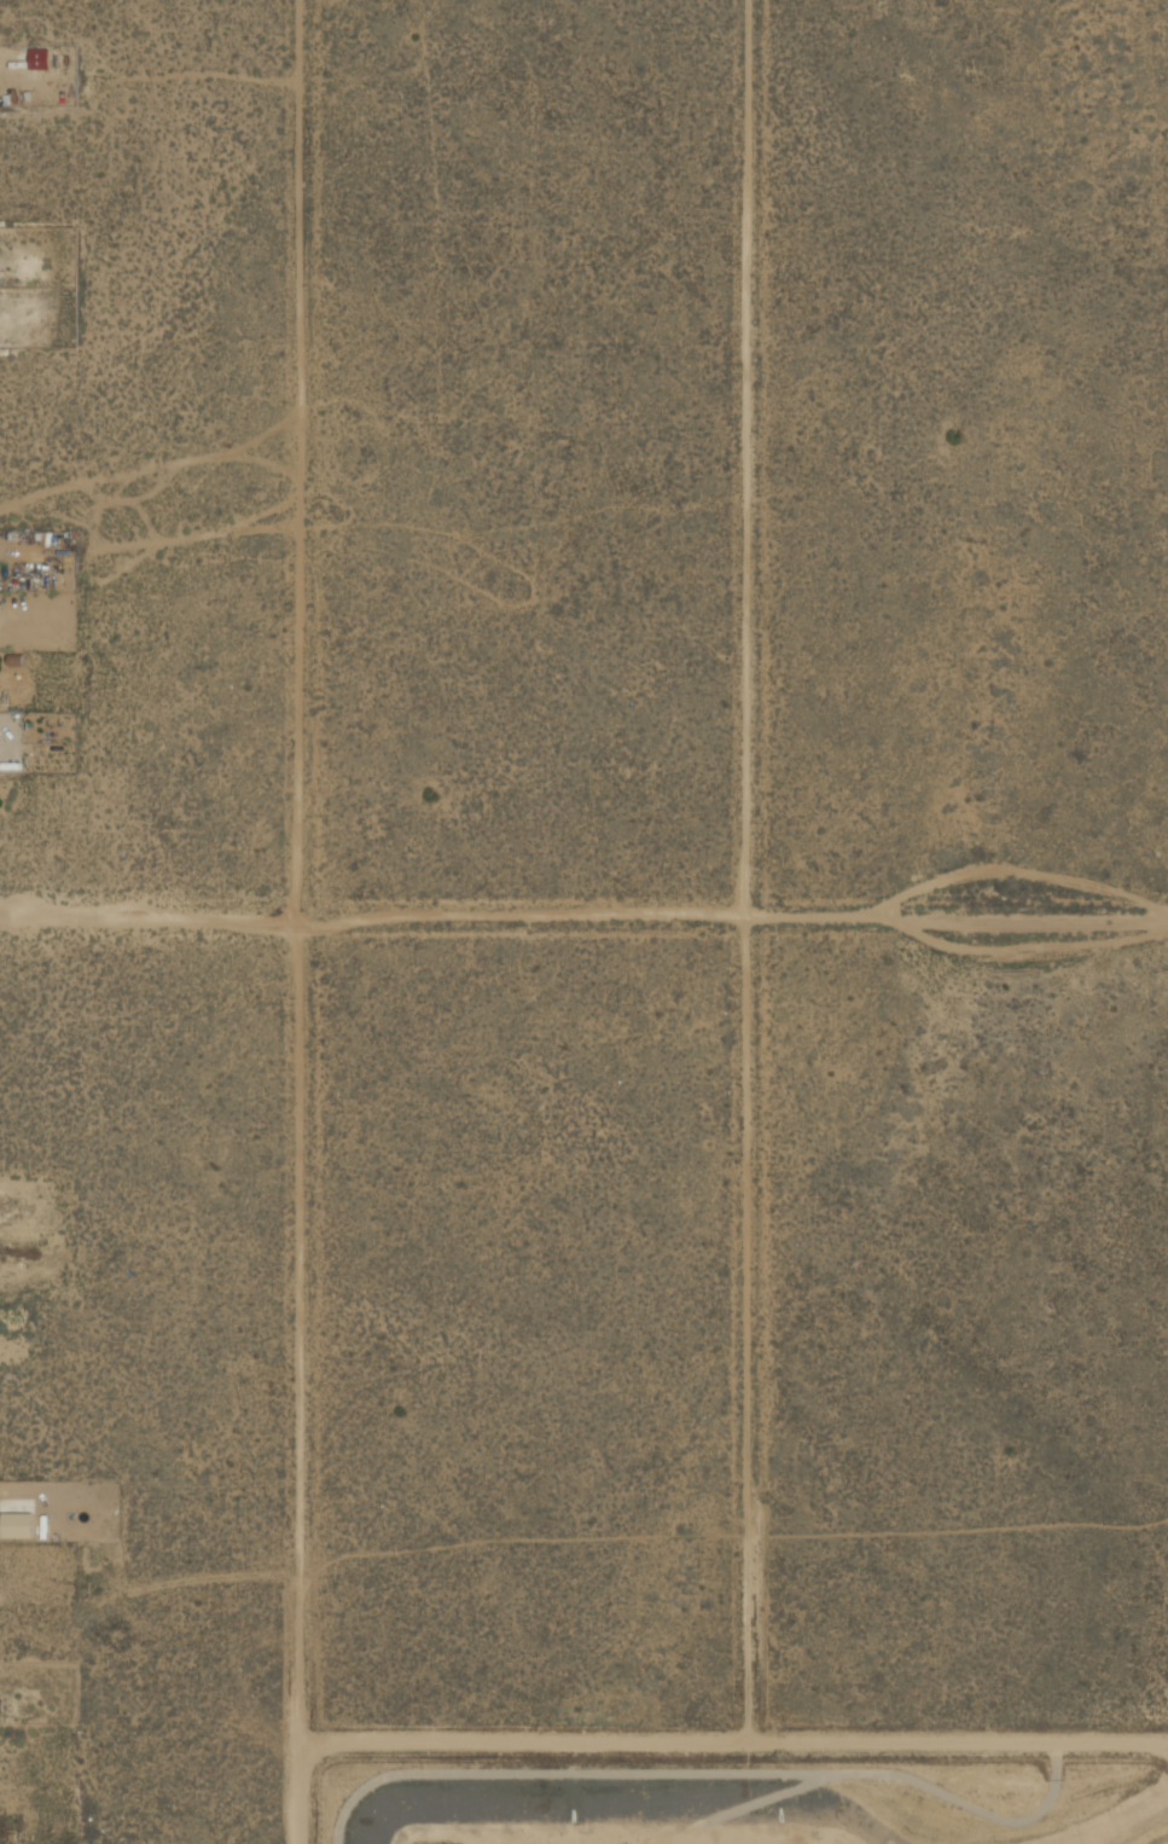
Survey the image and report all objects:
road: (298, 457)
road: (745, 458)
road: (583, 915)
road: (297, 1379)
road: (745, 1380)
building: (0, 1706)

